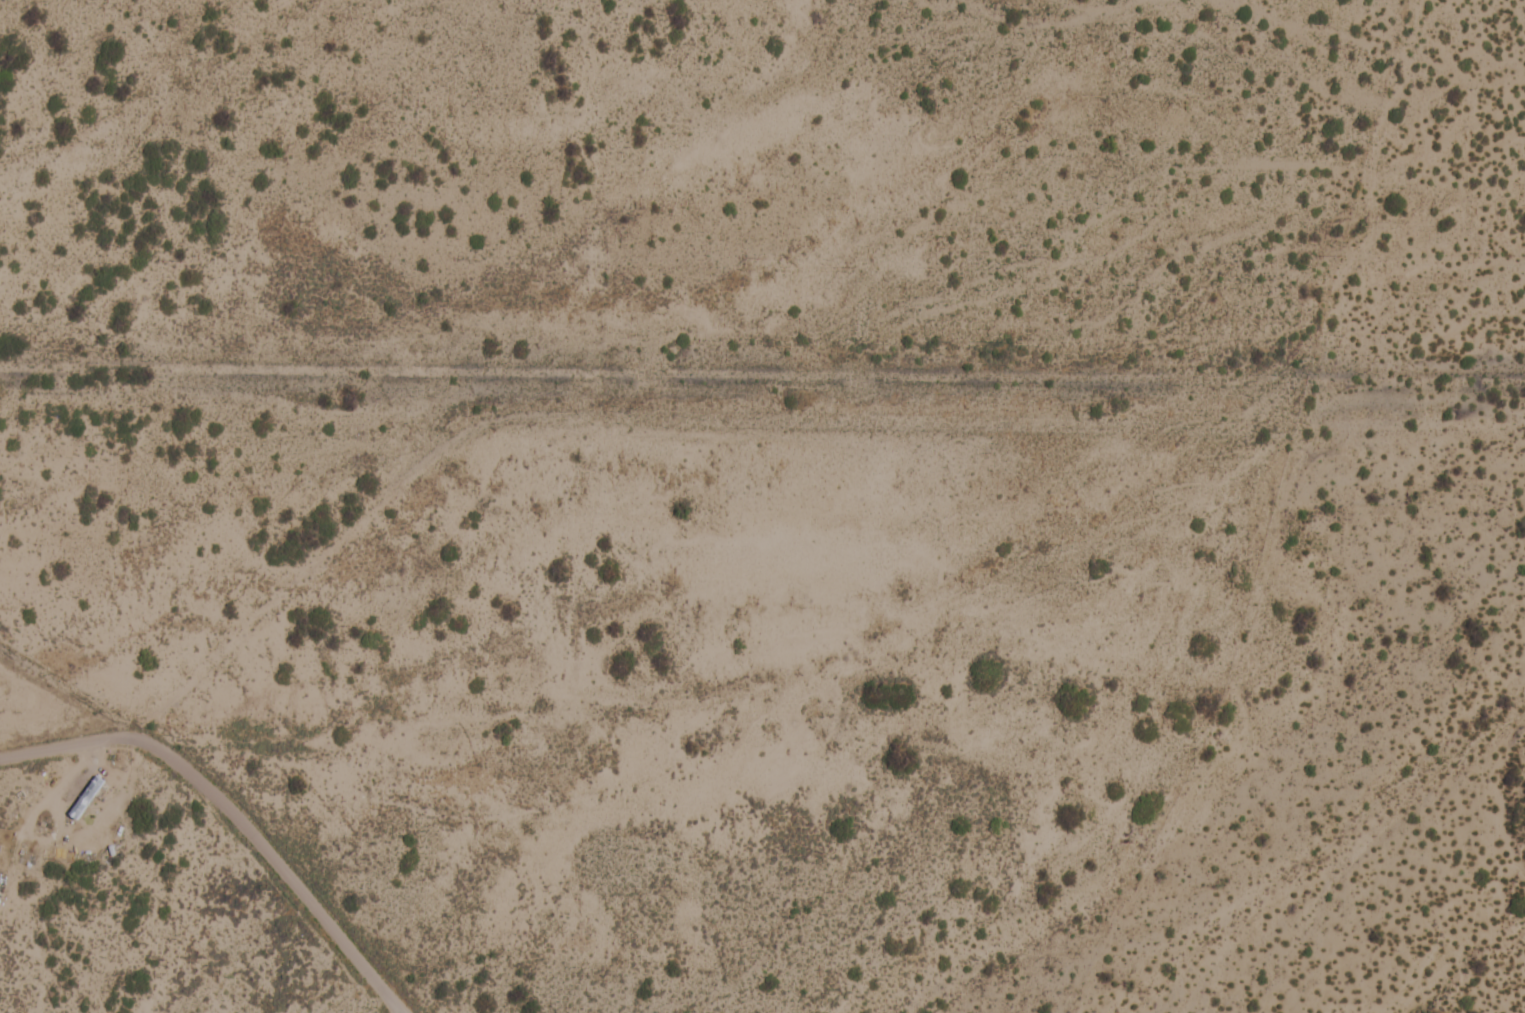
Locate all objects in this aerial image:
building: (85, 799)
road: (154, 991)

